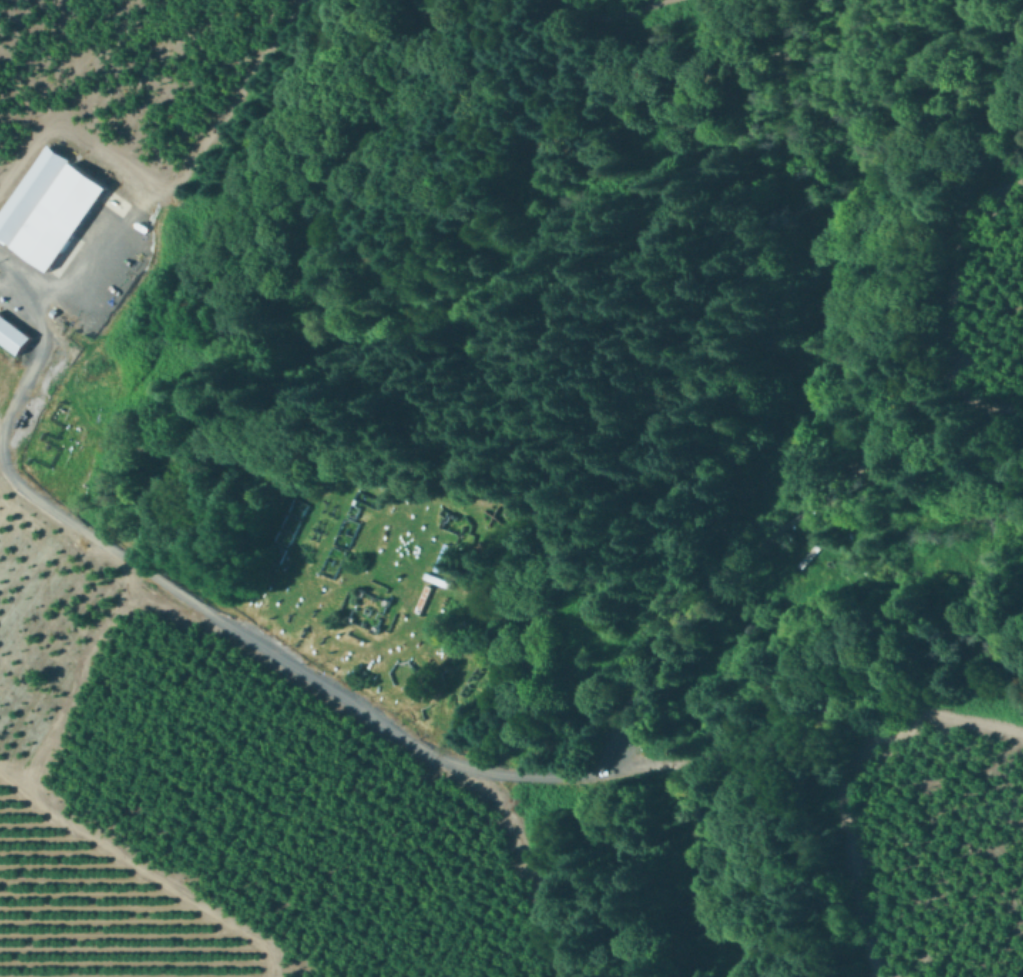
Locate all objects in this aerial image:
building: (29, 194)
road: (9, 282)
building: (89, 282)
building: (12, 337)
building: (450, 527)

